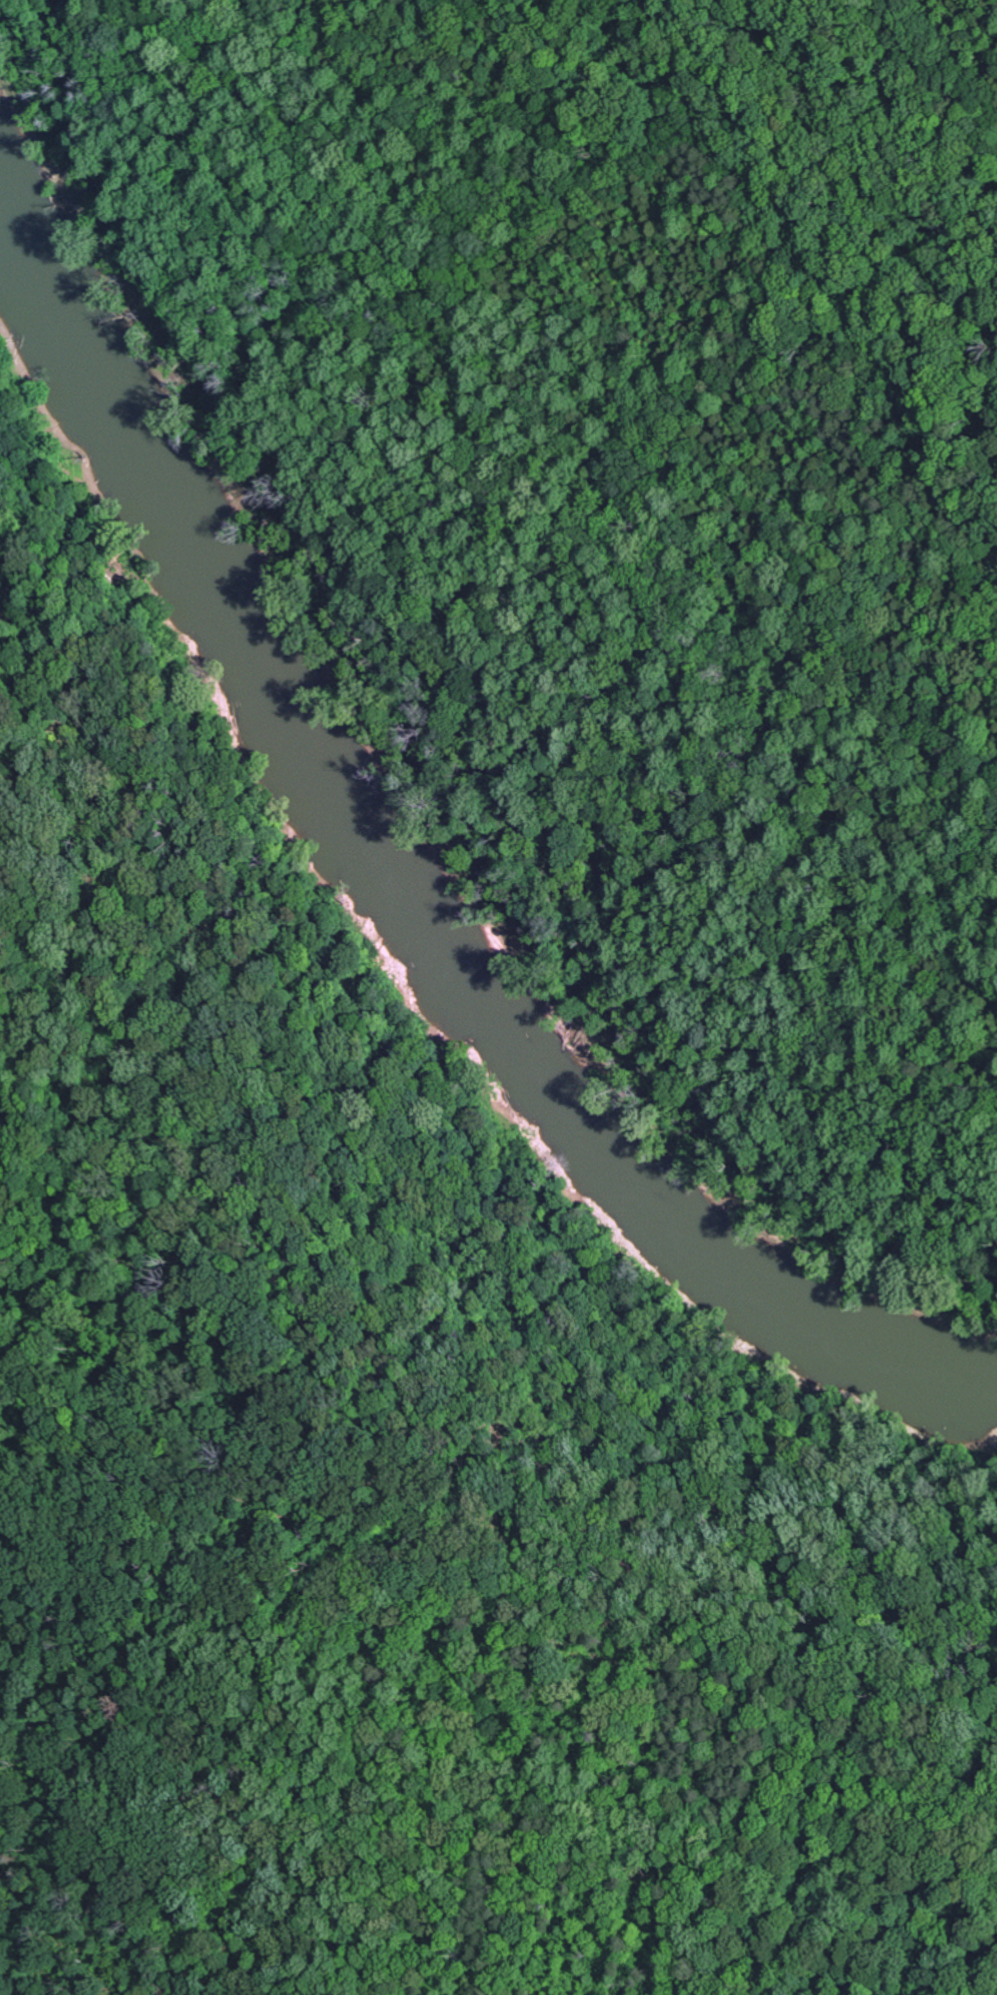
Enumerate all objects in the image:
road: (817, 257)
river: (437, 817)

